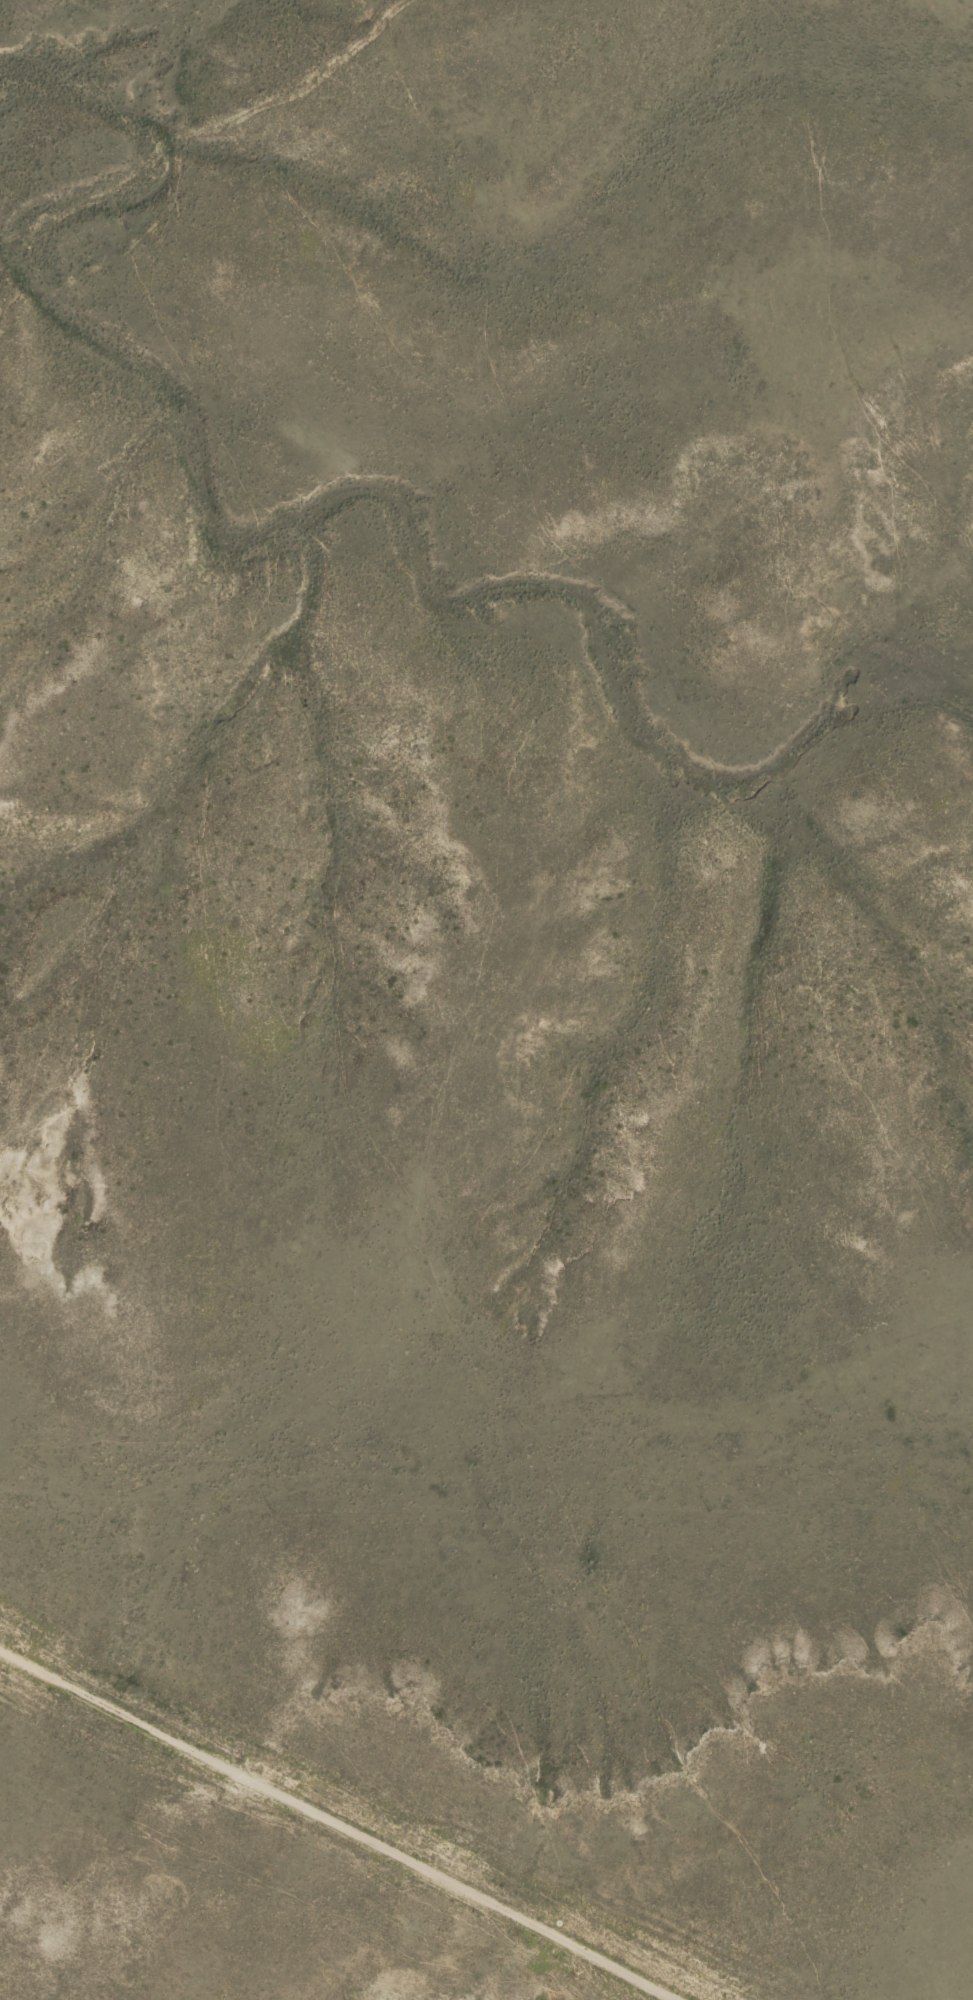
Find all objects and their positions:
road: (337, 1830)

